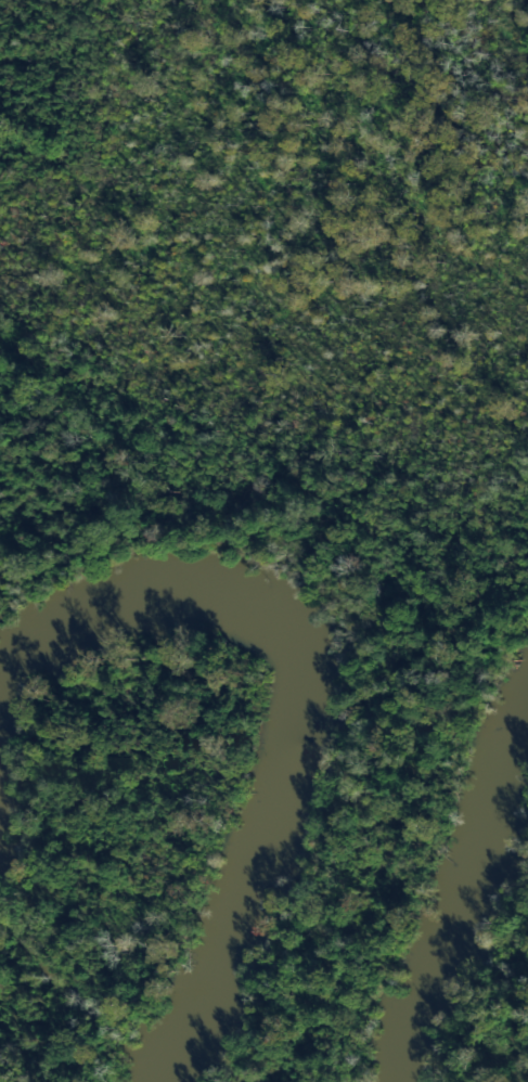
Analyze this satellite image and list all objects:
river: (309, 705)
river: (460, 916)

